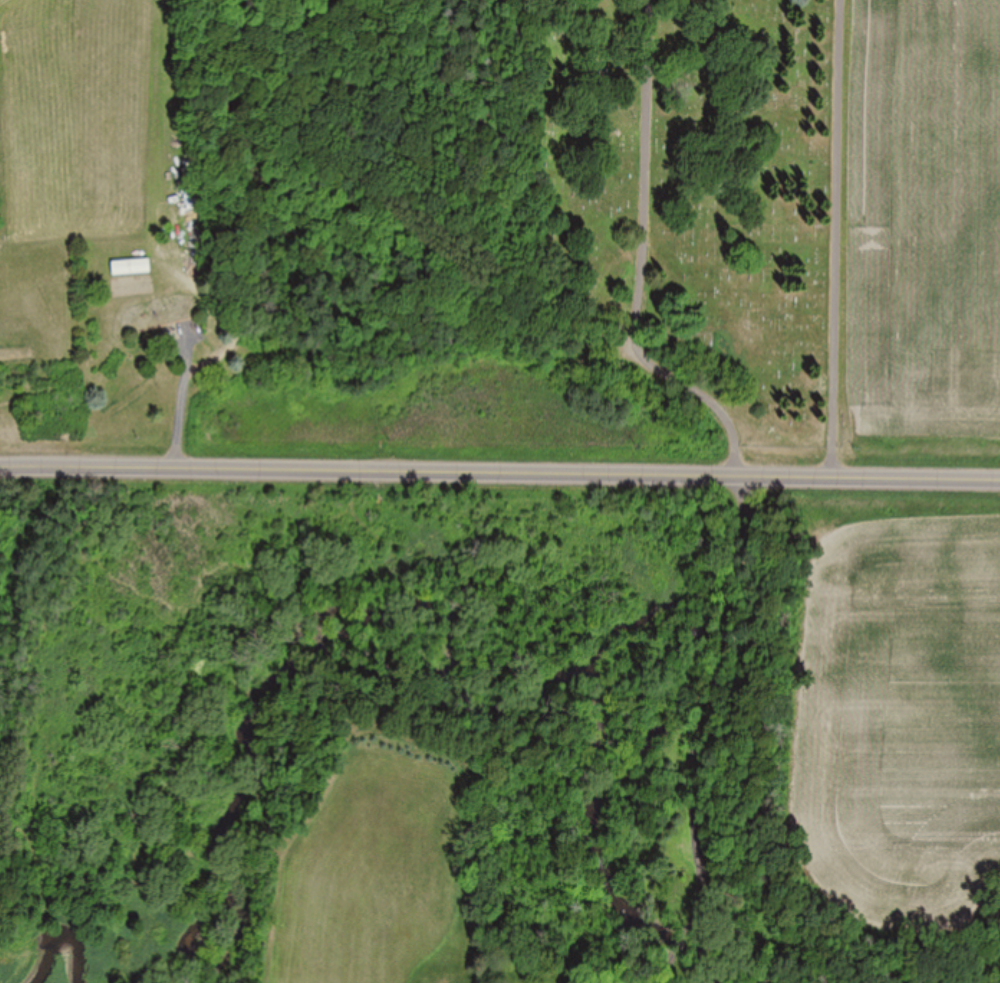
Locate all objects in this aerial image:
building: (193, 199)
building: (128, 268)
road: (499, 478)
road: (783, 742)

